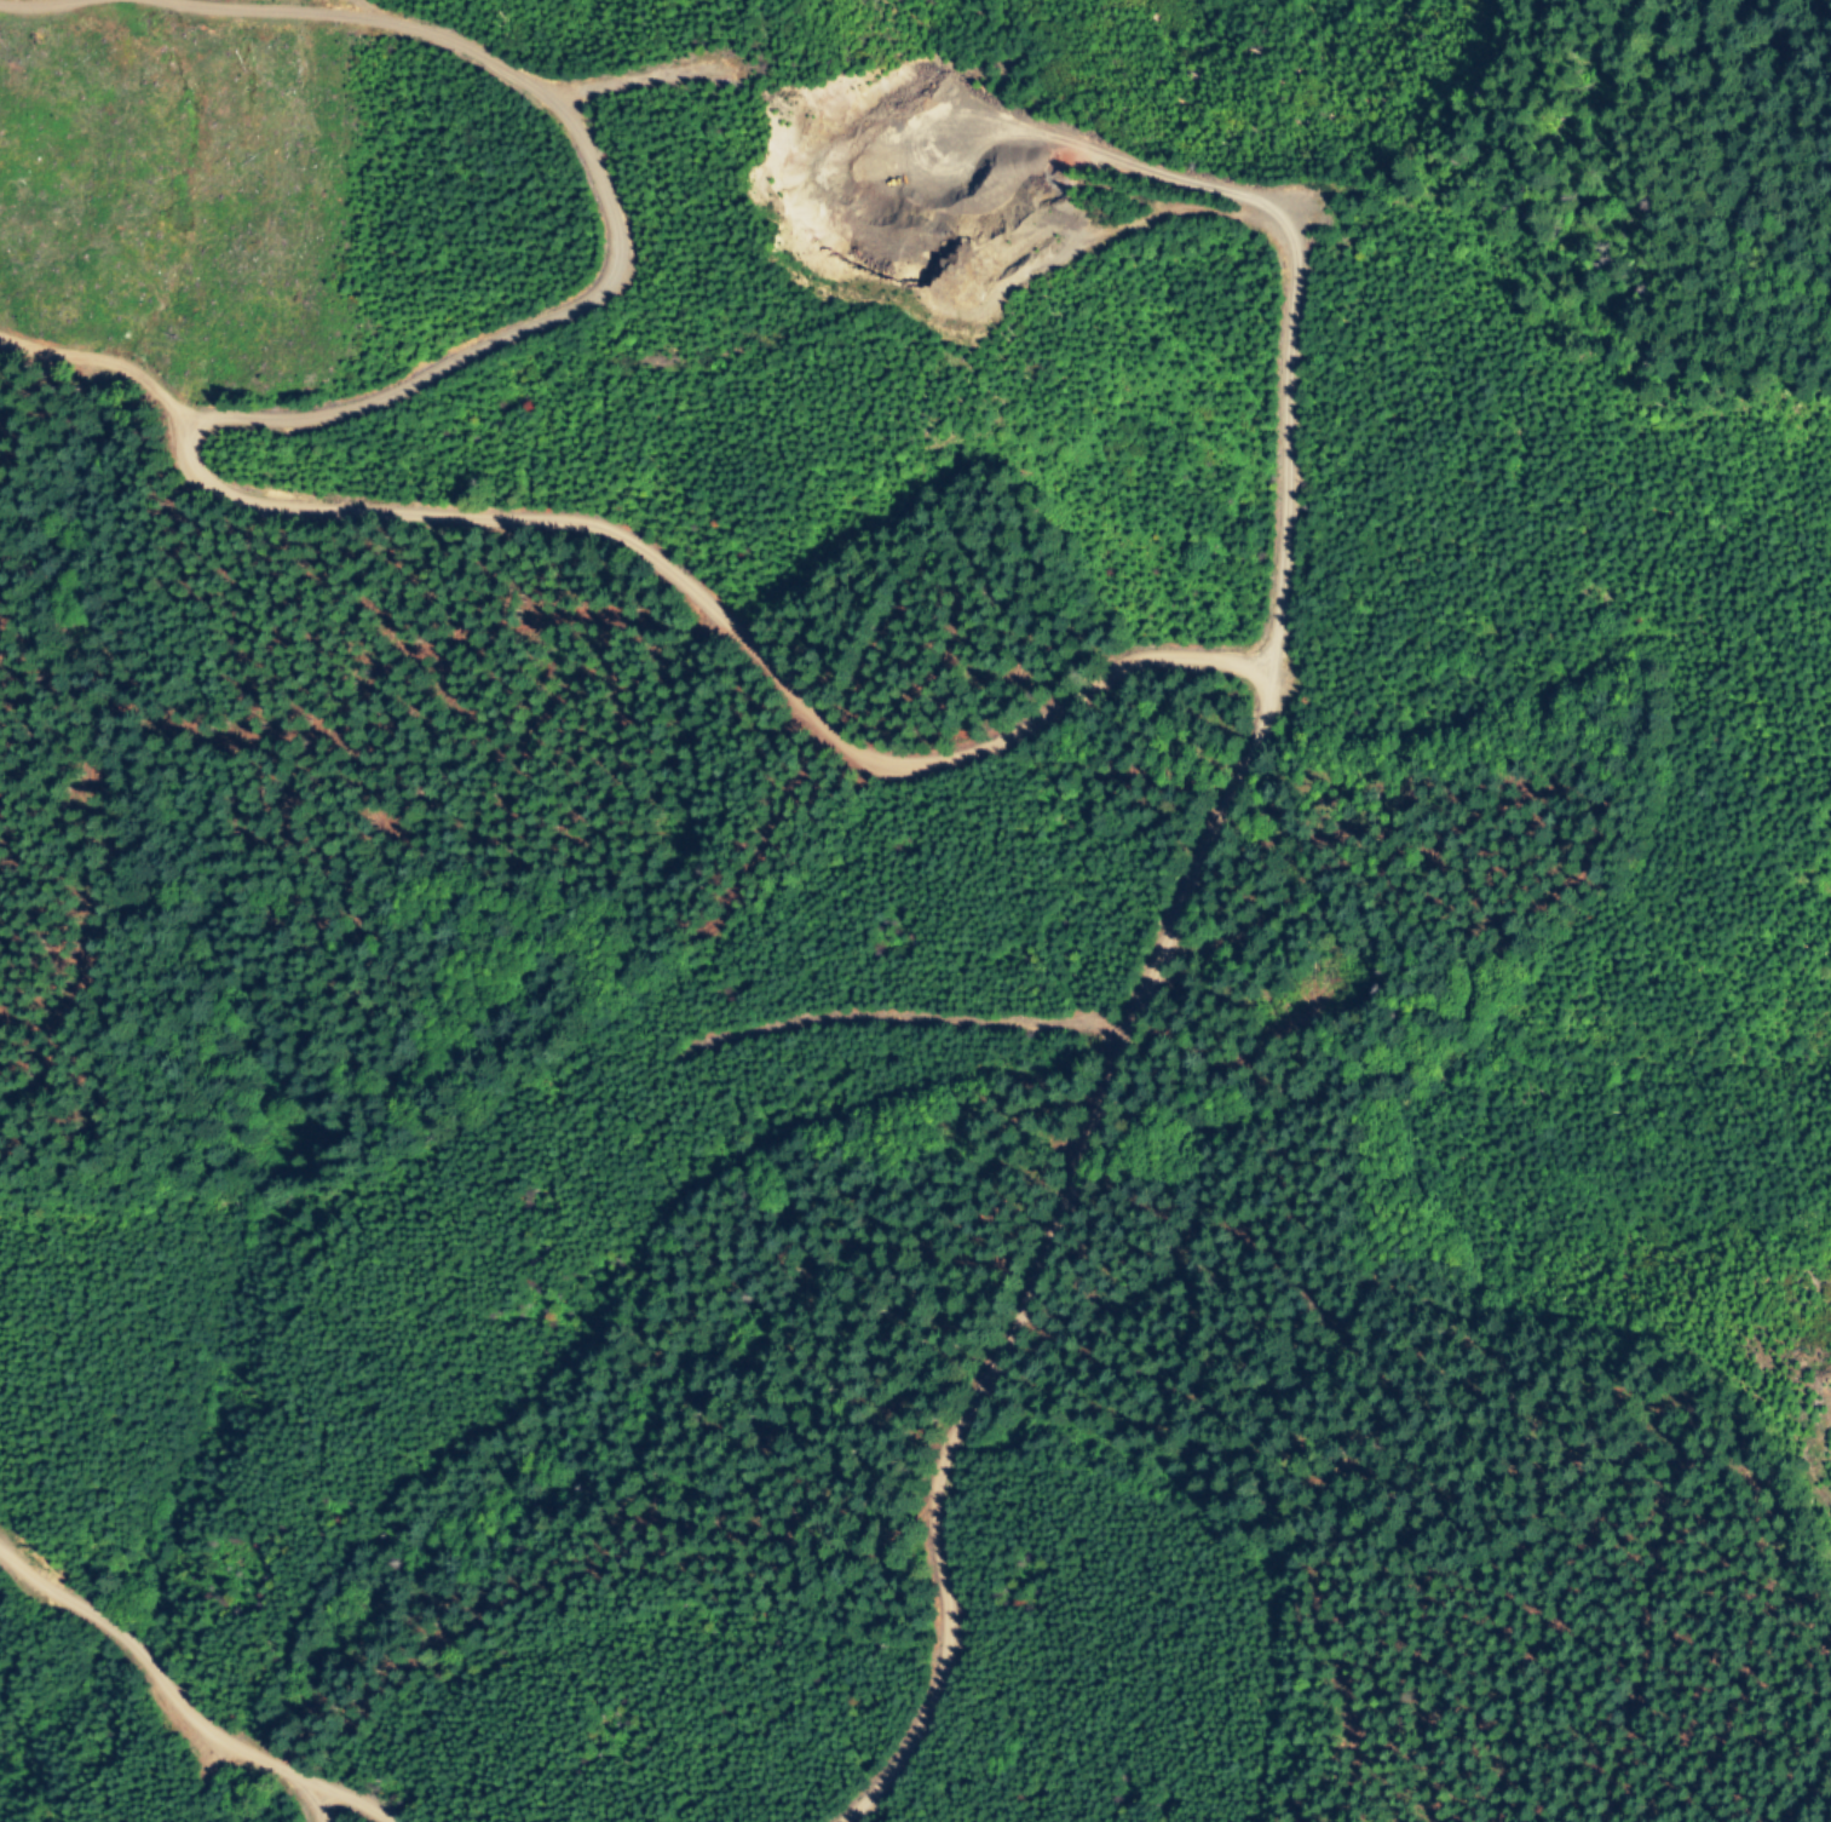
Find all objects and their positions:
road: (339, 8)
road: (1288, 455)
road: (794, 713)
road: (209, 741)
crop: (480, 1006)
road: (154, 1688)
road: (345, 1799)

